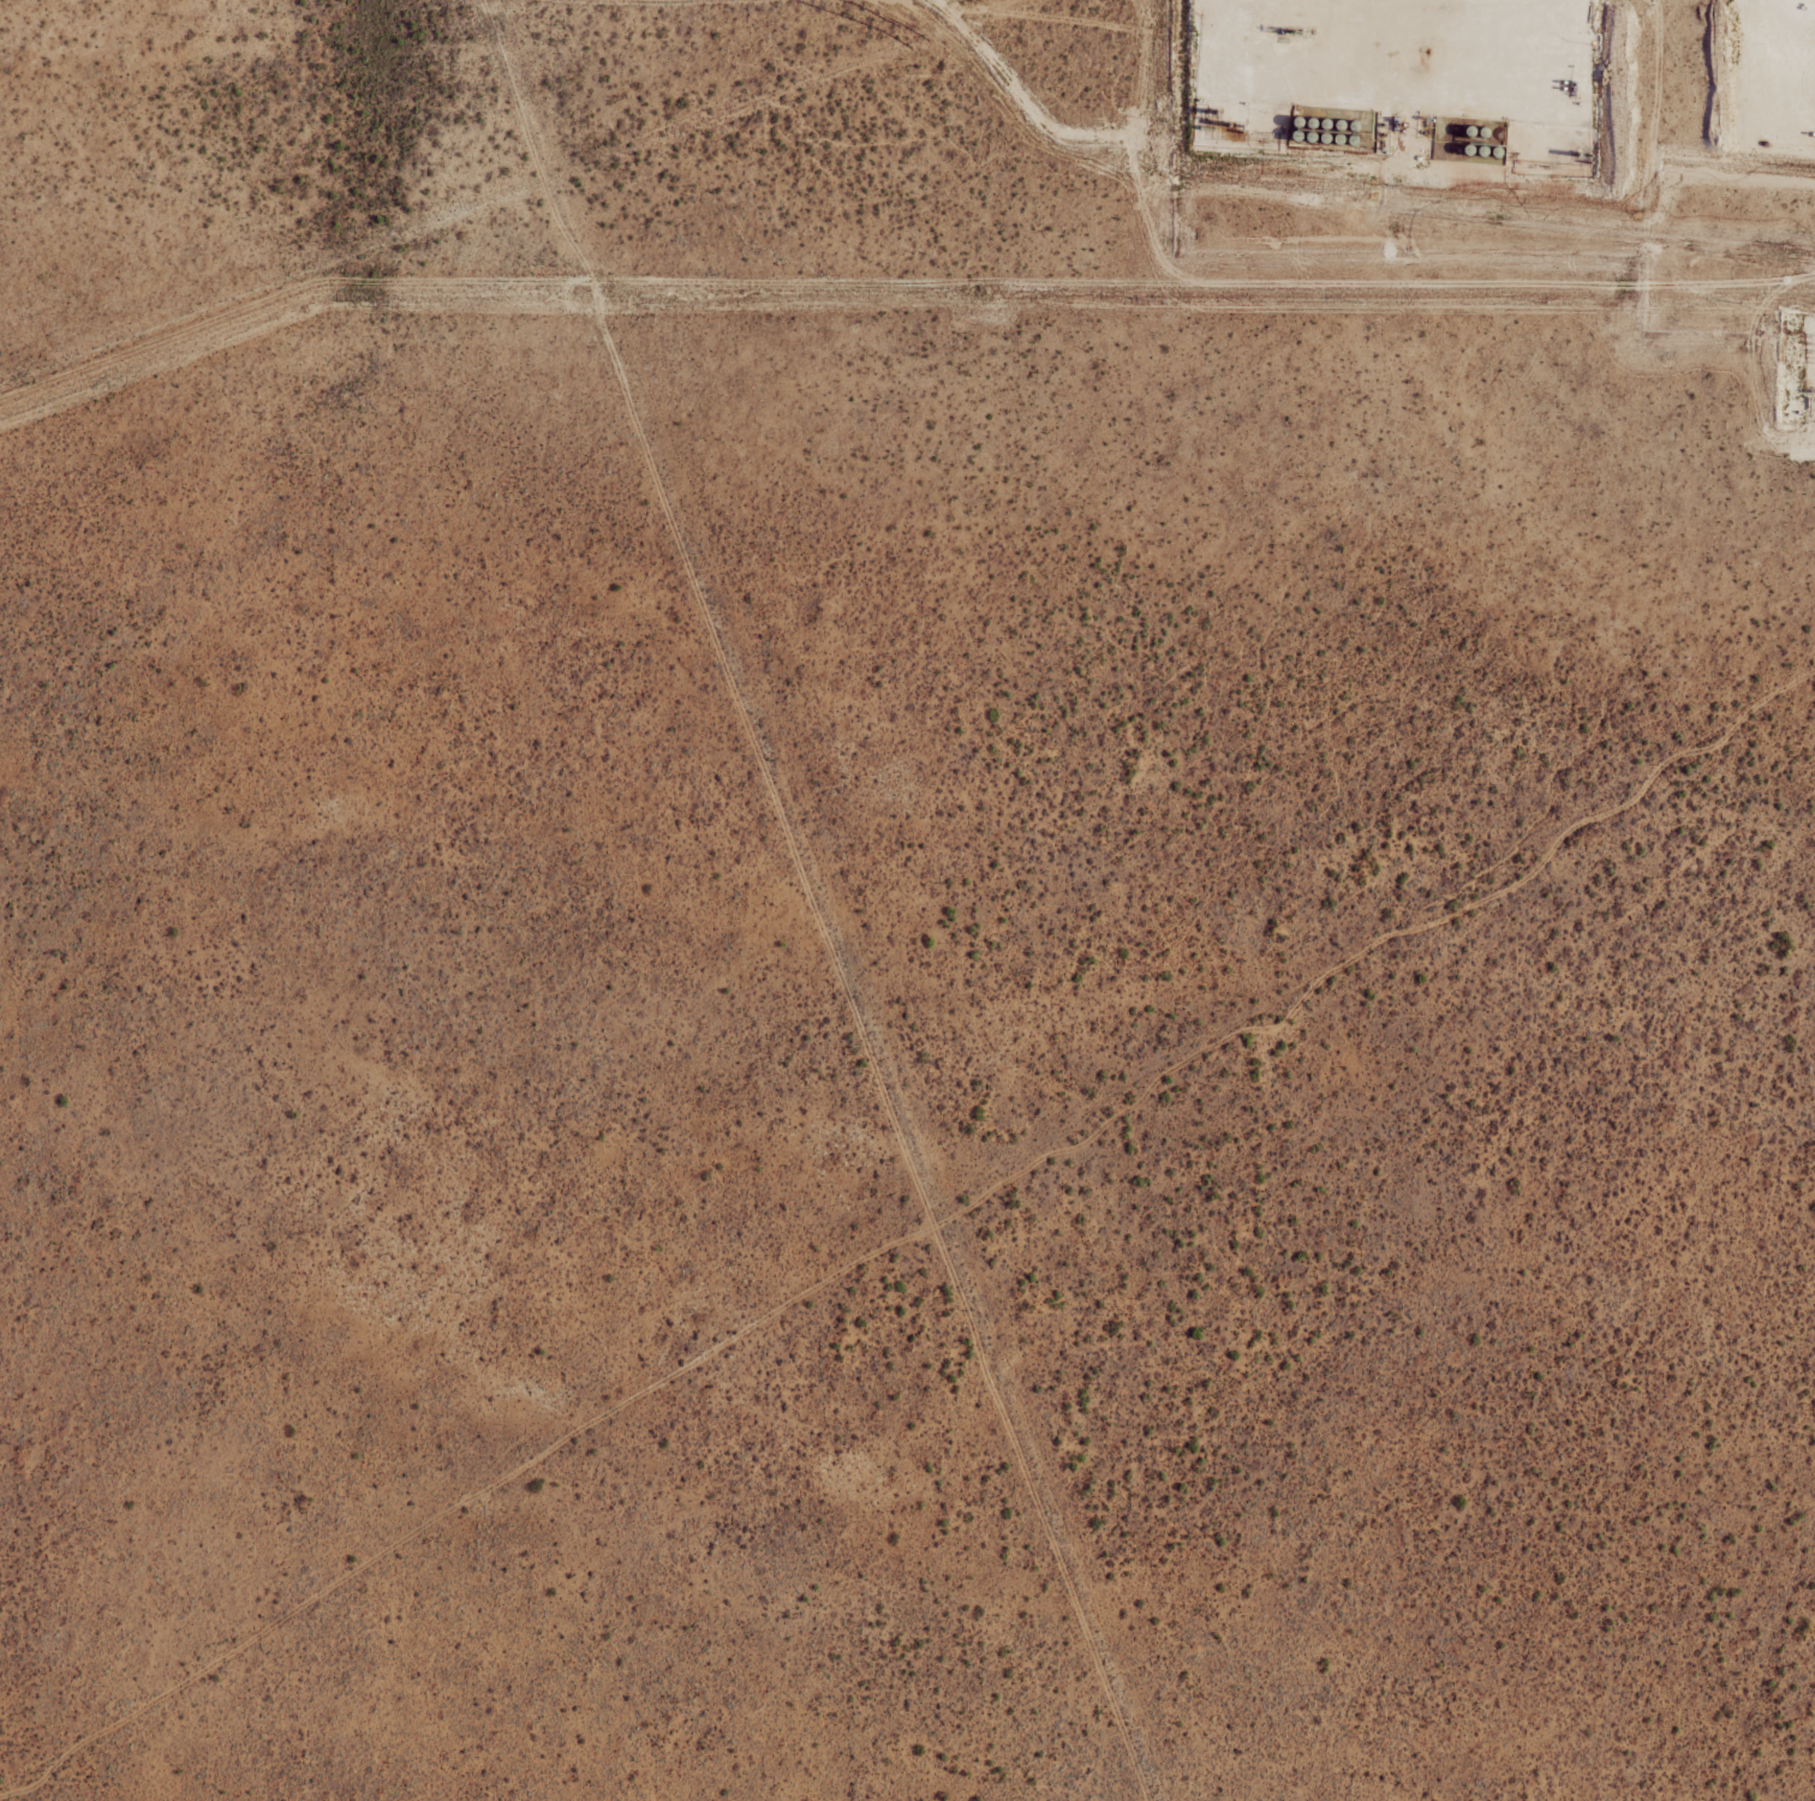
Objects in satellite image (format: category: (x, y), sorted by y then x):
road: (1387, 60)

